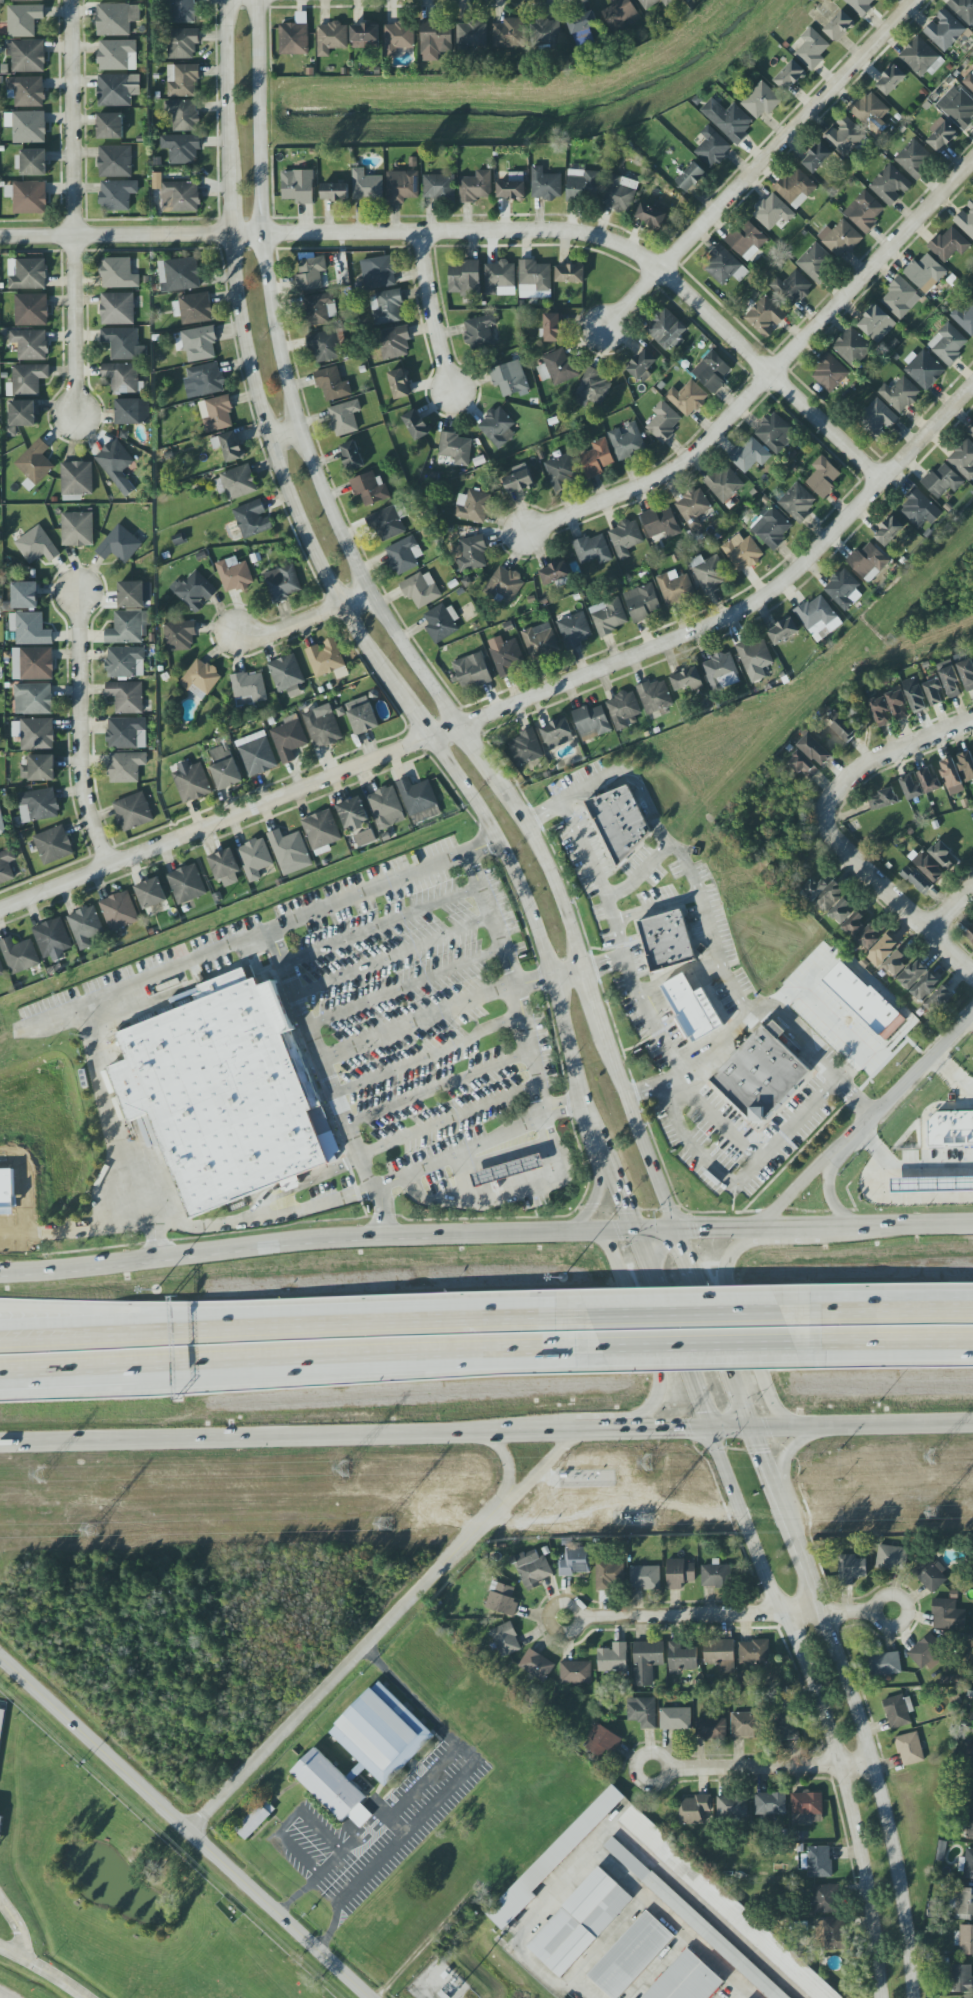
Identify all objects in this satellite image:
building: (26, 0)
building: (653, 3)
building: (859, 5)
building: (964, 10)
building: (181, 11)
building: (620, 13)
building: (116, 19)
building: (23, 20)
building: (839, 26)
building: (944, 30)
building: (546, 31)
building: (584, 31)
building: (508, 33)
building: (472, 35)
building: (364, 36)
building: (397, 37)
building: (331, 38)
building: (293, 39)
building: (435, 39)
building: (181, 43)
building: (812, 49)
building: (26, 55)
building: (117, 55)
building: (920, 57)
building: (789, 75)
building: (182, 80)
building: (891, 80)
building: (969, 83)
road: (229, 84)
building: (114, 90)
building: (26, 91)
building: (761, 100)
building: (957, 106)
building: (869, 110)
building: (183, 115)
building: (728, 119)
building: (27, 126)
building: (110, 126)
building: (940, 135)
building: (844, 136)
building: (712, 147)
building: (181, 148)
building: (817, 158)
building: (913, 158)
building: (115, 161)
building: (32, 162)
road: (763, 164)
building: (691, 177)
building: (545, 184)
building: (582, 184)
building: (889, 185)
building: (298, 186)
building: (401, 186)
building: (366, 187)
building: (437, 187)
building: (475, 187)
building: (512, 187)
building: (795, 187)
building: (334, 192)
building: (619, 193)
building: (117, 195)
building: (28, 197)
building: (180, 197)
road: (228, 201)
road: (72, 203)
building: (864, 211)
building: (772, 212)
building: (653, 214)
building: (966, 219)
road: (113, 234)
road: (601, 238)
building: (840, 238)
building: (747, 240)
building: (949, 244)
building: (815, 262)
building: (724, 267)
building: (378, 272)
building: (118, 273)
building: (311, 273)
building: (569, 273)
building: (925, 273)
building: (27, 274)
building: (179, 275)
building: (464, 278)
building: (500, 279)
building: (534, 279)
building: (791, 288)
building: (900, 298)
building: (387, 307)
building: (117, 308)
building: (193, 309)
building: (320, 309)
road: (438, 309)
building: (31, 310)
building: (765, 317)
building: (966, 318)
building: (876, 324)
building: (554, 327)
building: (665, 328)
building: (479, 331)
building: (394, 342)
building: (199, 343)
building: (30, 344)
building: (123, 344)
building: (948, 344)
building: (324, 347)
building: (852, 348)
building: (642, 366)
building: (557, 367)
building: (923, 368)
building: (711, 372)
building: (829, 373)
building: (28, 378)
building: (123, 378)
road: (770, 378)
building: (510, 379)
building: (204, 380)
road: (288, 383)
building: (332, 384)
building: (399, 384)
building: (593, 389)
building: (900, 394)
building: (687, 398)
building: (132, 411)
building: (216, 413)
building: (22, 415)
building: (344, 418)
building: (877, 419)
building: (663, 422)
building: (416, 425)
building: (497, 427)
building: (775, 433)
building: (971, 433)
road: (286, 437)
building: (627, 442)
building: (229, 446)
building: (456, 448)
building: (749, 455)
building: (351, 456)
building: (596, 458)
building: (963, 459)
building: (35, 462)
building: (116, 465)
road: (282, 471)
building: (562, 471)
building: (823, 477)
building: (77, 478)
building: (942, 480)
building: (238, 482)
building: (518, 482)
building: (723, 483)
building: (369, 488)
building: (797, 502)
building: (473, 506)
building: (693, 507)
building: (919, 509)
building: (252, 519)
building: (386, 523)
building: (660, 523)
building: (771, 528)
building: (77, 529)
building: (889, 531)
building: (625, 538)
building: (119, 545)
building: (37, 546)
building: (593, 549)
building: (742, 552)
building: (471, 554)
building: (403, 555)
building: (867, 562)
building: (554, 573)
building: (709, 573)
building: (234, 575)
building: (283, 583)
building: (504, 585)
building: (675, 588)
building: (421, 589)
building: (843, 589)
building: (194, 591)
building: (131, 594)
building: (25, 595)
building: (642, 603)
road: (747, 605)
building: (608, 616)
road: (306, 617)
building: (818, 617)
building: (441, 623)
building: (128, 627)
building: (29, 629)
building: (783, 631)
building: (179, 636)
building: (540, 642)
building: (506, 655)
building: (325, 657)
building: (755, 658)
building: (125, 662)
building: (32, 664)
building: (472, 671)
building: (721, 671)
building: (287, 674)
building: (966, 674)
building: (200, 679)
building: (686, 679)
building: (951, 682)
building: (249, 689)
building: (933, 693)
building: (915, 695)
building: (654, 696)
building: (126, 697)
building: (33, 699)
building: (898, 705)
building: (623, 709)
building: (880, 712)
road: (412, 713)
building: (362, 715)
building: (591, 722)
building: (322, 726)
building: (844, 729)
building: (126, 733)
road: (444, 733)
building: (557, 733)
road: (79, 734)
building: (289, 738)
building: (526, 748)
road: (474, 750)
building: (814, 750)
building: (256, 754)
building: (966, 765)
building: (803, 766)
building: (126, 767)
building: (225, 767)
building: (39, 768)
road: (337, 776)
building: (951, 776)
building: (191, 781)
building: (928, 781)
building: (911, 788)
building: (417, 796)
road: (575, 798)
building: (882, 799)
building: (38, 805)
building: (385, 808)
road: (652, 809)
building: (133, 811)
building: (353, 813)
road: (229, 819)
building: (620, 821)
building: (2, 824)
building: (321, 831)
road: (833, 832)
building: (53, 844)
building: (287, 848)
building: (941, 854)
building: (254, 858)
building: (6, 866)
road: (106, 867)
road: (546, 867)
building: (928, 867)
building: (225, 868)
road: (640, 872)
building: (916, 879)
building: (186, 884)
building: (151, 893)
building: (828, 897)
road: (656, 907)
building: (119, 911)
road: (954, 912)
building: (857, 923)
building: (85, 926)
road: (380, 926)
road: (709, 930)
road: (537, 935)
building: (970, 935)
road: (254, 936)
building: (869, 936)
building: (53, 940)
building: (666, 941)
building: (882, 950)
building: (19, 955)
road: (392, 957)
building: (897, 961)
road: (604, 964)
building: (1, 971)
road: (567, 973)
building: (912, 974)
road: (513, 979)
road: (534, 981)
building: (925, 986)
road: (404, 987)
road: (590, 994)
road: (639, 995)
building: (938, 999)
building: (691, 1008)
road: (835, 1016)
road: (971, 1021)
road: (418, 1022)
road: (719, 1043)
road: (429, 1055)
road: (823, 1062)
road: (953, 1074)
building: (761, 1076)
road: (330, 1086)
road: (439, 1086)
road: (902, 1086)
building: (228, 1095)
road: (800, 1116)
road: (449, 1118)
road: (635, 1124)
building: (951, 1128)
road: (116, 1133)
road: (688, 1142)
road: (907, 1169)
building: (508, 1171)
gas station: (508, 1171)
building: (931, 1184)
road: (372, 1190)
road: (506, 1192)
road: (796, 1193)
road: (828, 1193)
road: (593, 1195)
traffic signals: (622, 1205)
road: (625, 1212)
road: (898, 1225)
road: (94, 1228)
road: (792, 1228)
traffic signals: (698, 1230)
road: (379, 1244)
traffic signals: (684, 1252)
road: (884, 1315)
road: (709, 1317)
road: (686, 1318)
road: (639, 1325)
road: (374, 1328)
road: (85, 1330)
road: (750, 1338)
road: (85, 1339)
road: (682, 1343)
road: (882, 1343)
road: (679, 1350)
road: (286, 1353)
road: (97, 1368)
traffic signals: (701, 1409)
road: (747, 1416)
road: (862, 1425)
road: (662, 1428)
traffic signals: (682, 1428)
road: (730, 1428)
road: (592, 1429)
road: (283, 1437)
road: (792, 1446)
road: (763, 1453)
traffic signals: (763, 1453)
power tower: (935, 1458)
road: (513, 1462)
power tower: (652, 1462)
road: (544, 1468)
power tower: (347, 1469)
power tower: (40, 1474)
road: (730, 1483)
road: (780, 1493)
power tower: (934, 1509)
power tower: (647, 1513)
power tower: (380, 1520)
power tower: (91, 1529)
building: (891, 1557)
road: (803, 1559)
building: (575, 1561)
building: (850, 1569)
building: (532, 1570)
building: (679, 1573)
building: (930, 1574)
building: (609, 1575)
building: (715, 1575)
building: (645, 1577)
building: (501, 1599)
road: (875, 1603)
road: (580, 1609)
road: (729, 1613)
building: (948, 1614)
building: (505, 1640)
building: (924, 1650)
building: (753, 1653)
building: (720, 1655)
building: (613, 1658)
building: (681, 1658)
building: (646, 1662)
building: (885, 1664)
building: (536, 1665)
road: (347, 1669)
building: (575, 1672)
building: (898, 1711)
building: (642, 1712)
building: (675, 1718)
building: (972, 1721)
building: (1, 1722)
building: (745, 1725)
building: (786, 1725)
building: (710, 1728)
building: (381, 1733)
building: (601, 1741)
building: (909, 1749)
building: (970, 1753)
road: (839, 1761)
road: (664, 1765)
road: (768, 1768)
building: (355, 1772)
building: (332, 1788)
road: (444, 1794)
road: (402, 1797)
building: (972, 1797)
road: (880, 1801)
building: (770, 1805)
building: (732, 1807)
building: (806, 1808)
building: (694, 1810)
building: (255, 1819)
road: (289, 1820)
building: (0, 1823)
road: (396, 1823)
building: (970, 1825)
road: (184, 1829)
building: (552, 1859)
building: (819, 1862)
building: (967, 1865)
road: (562, 1871)
road: (310, 1881)
park: (111, 1895)
building: (952, 1898)
building: (823, 1899)
road: (0, 1901)
building: (964, 1901)
building: (726, 1906)
road: (701, 1911)
building: (693, 1920)
road: (671, 1921)
building: (579, 1922)
road: (15, 1927)
building: (828, 1933)
building: (965, 1939)
road: (606, 1940)
building: (630, 1955)
road: (656, 1966)
road: (43, 1971)
building: (962, 1978)
road: (546, 1979)
building: (686, 1979)
road: (735, 1991)
building: (563, 1997)

